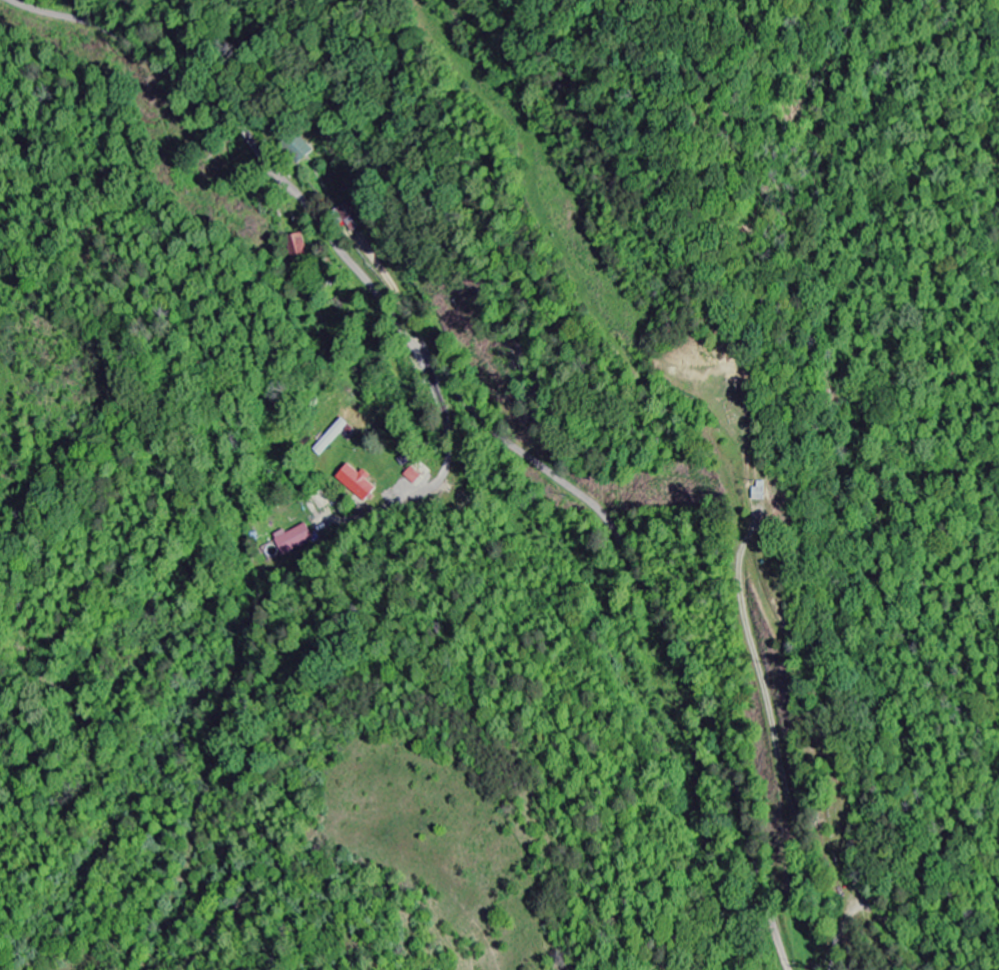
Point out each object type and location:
road: (168, 43)
road: (483, 417)
building: (334, 437)
building: (424, 472)
road: (440, 477)
building: (359, 483)
building: (295, 539)

